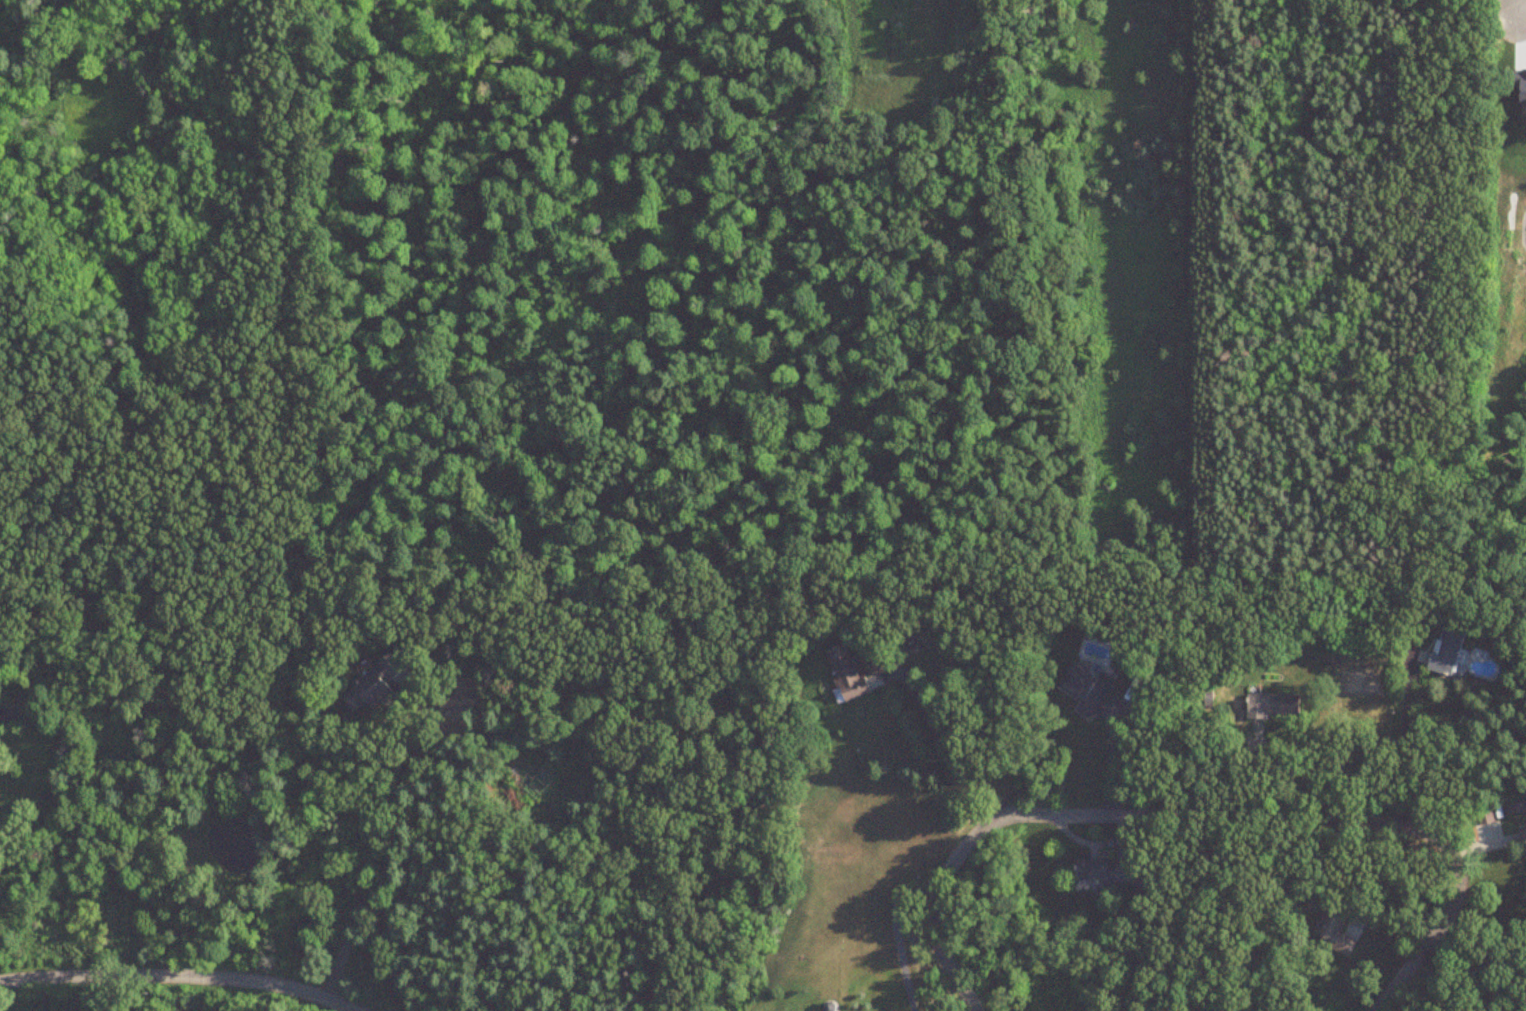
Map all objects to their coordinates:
road: (1525, 14)
building: (1445, 648)
building: (845, 673)
building: (372, 685)
building: (1085, 689)
building: (1271, 705)
road: (1404, 739)
road: (940, 750)
road: (1113, 763)
road: (1209, 818)
building: (1523, 836)
road: (390, 855)
building: (1100, 870)
building: (1334, 926)
road: (895, 930)
road: (1481, 956)
road: (178, 978)

